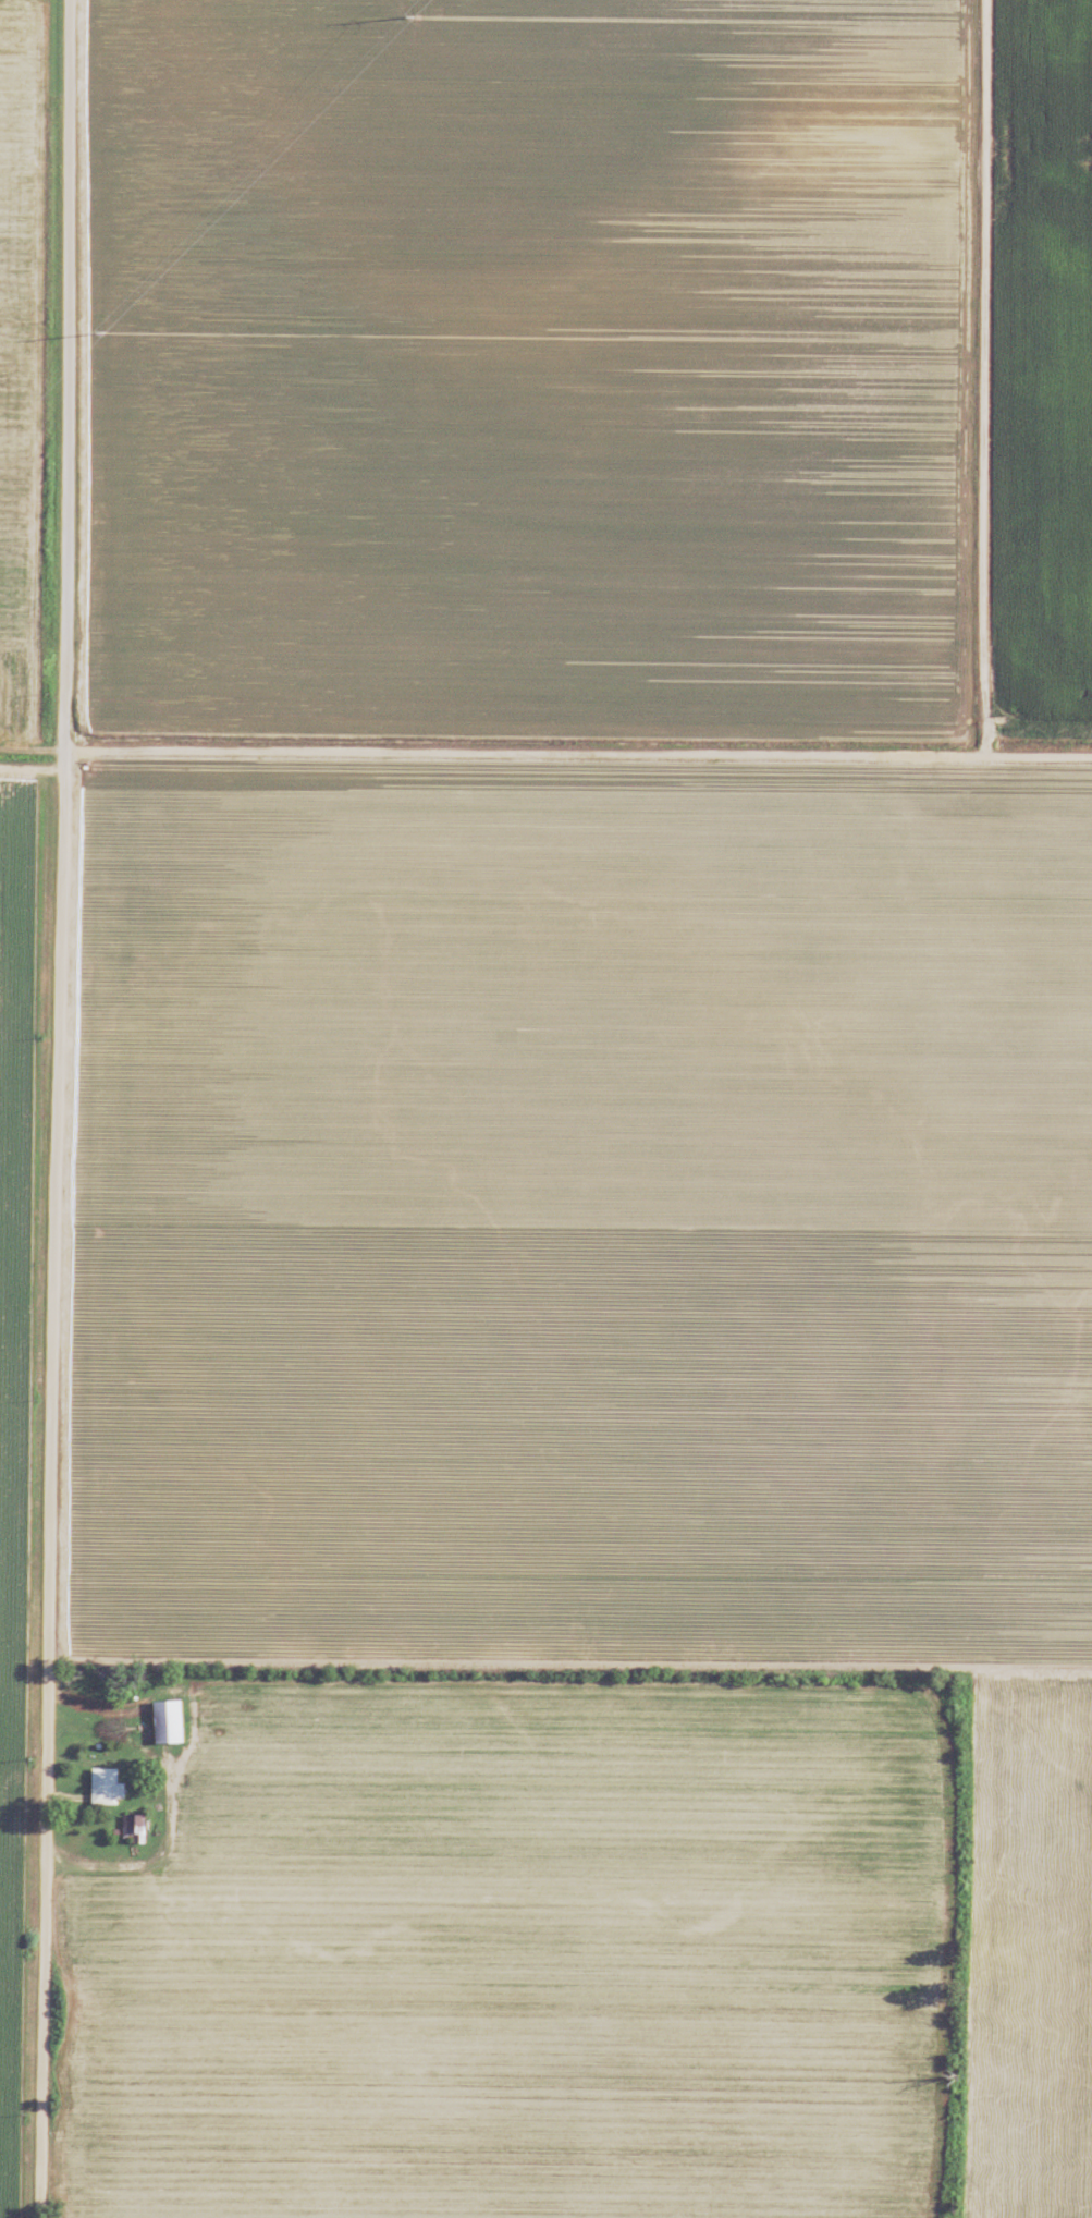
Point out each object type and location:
power tower: (412, 16)
power tower: (101, 332)
road: (57, 1108)

